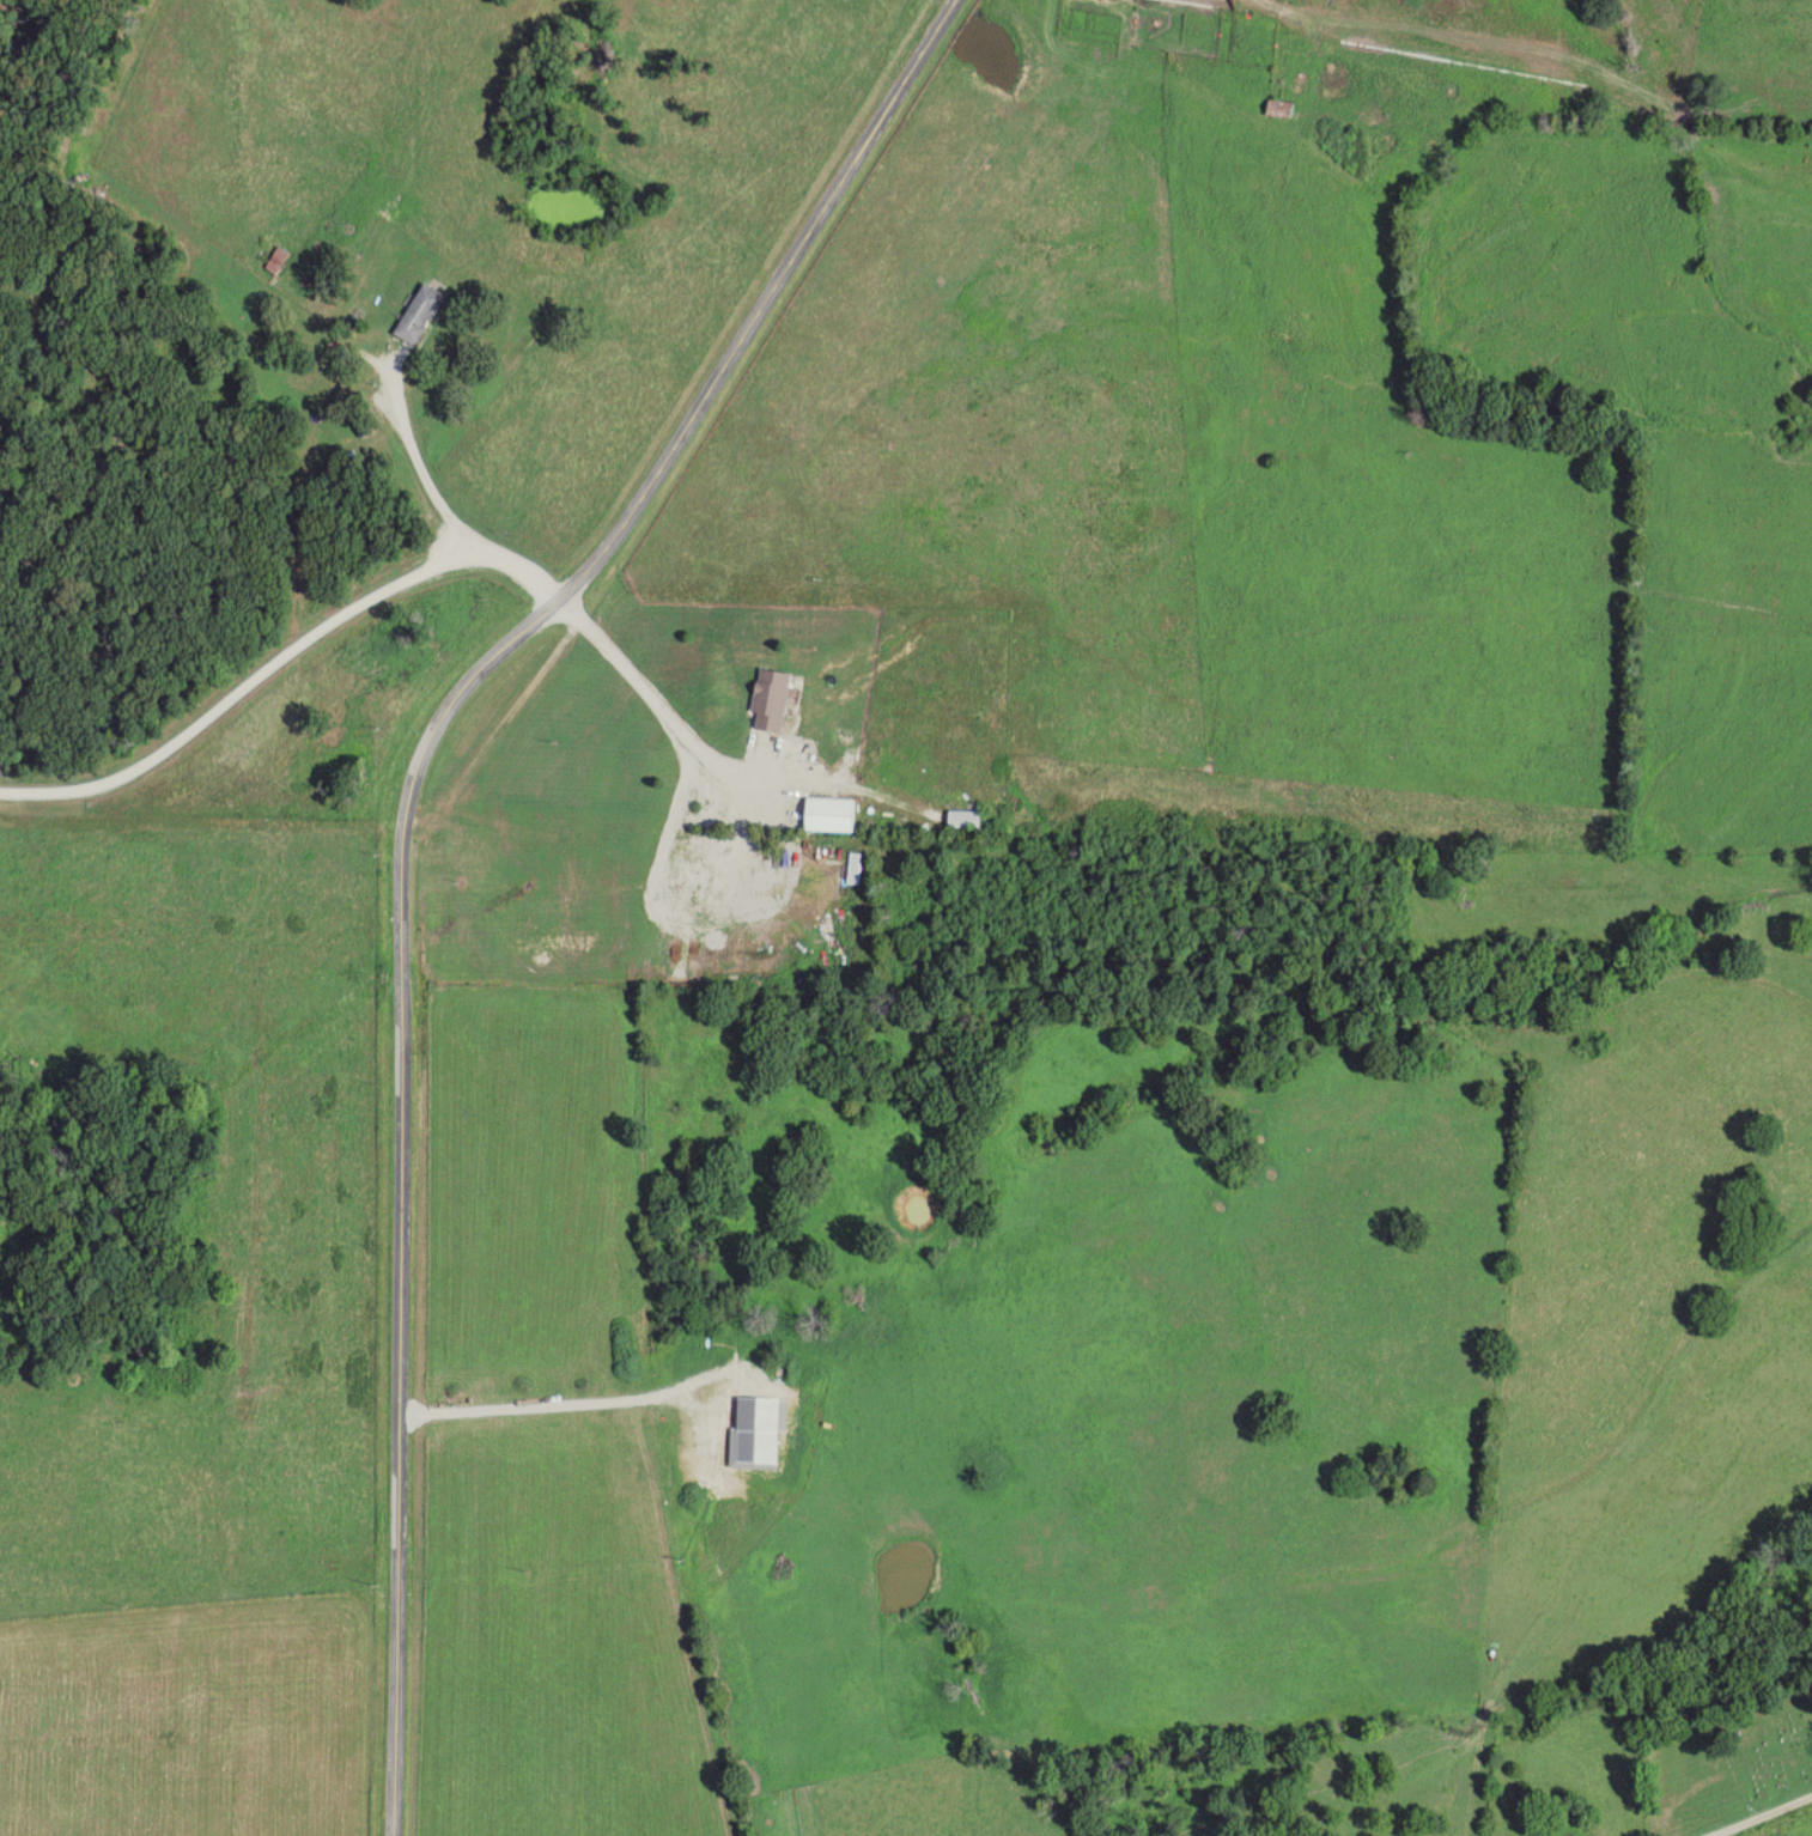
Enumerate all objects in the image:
building: (1283, 108)
building: (279, 260)
building: (422, 315)
road: (445, 506)
road: (243, 686)
road: (649, 700)
building: (774, 700)
building: (833, 814)
building: (968, 819)
road: (403, 831)
building: (473, 841)
building: (583, 870)
building: (448, 936)
park: (1770, 1743)
road: (1761, 1814)

